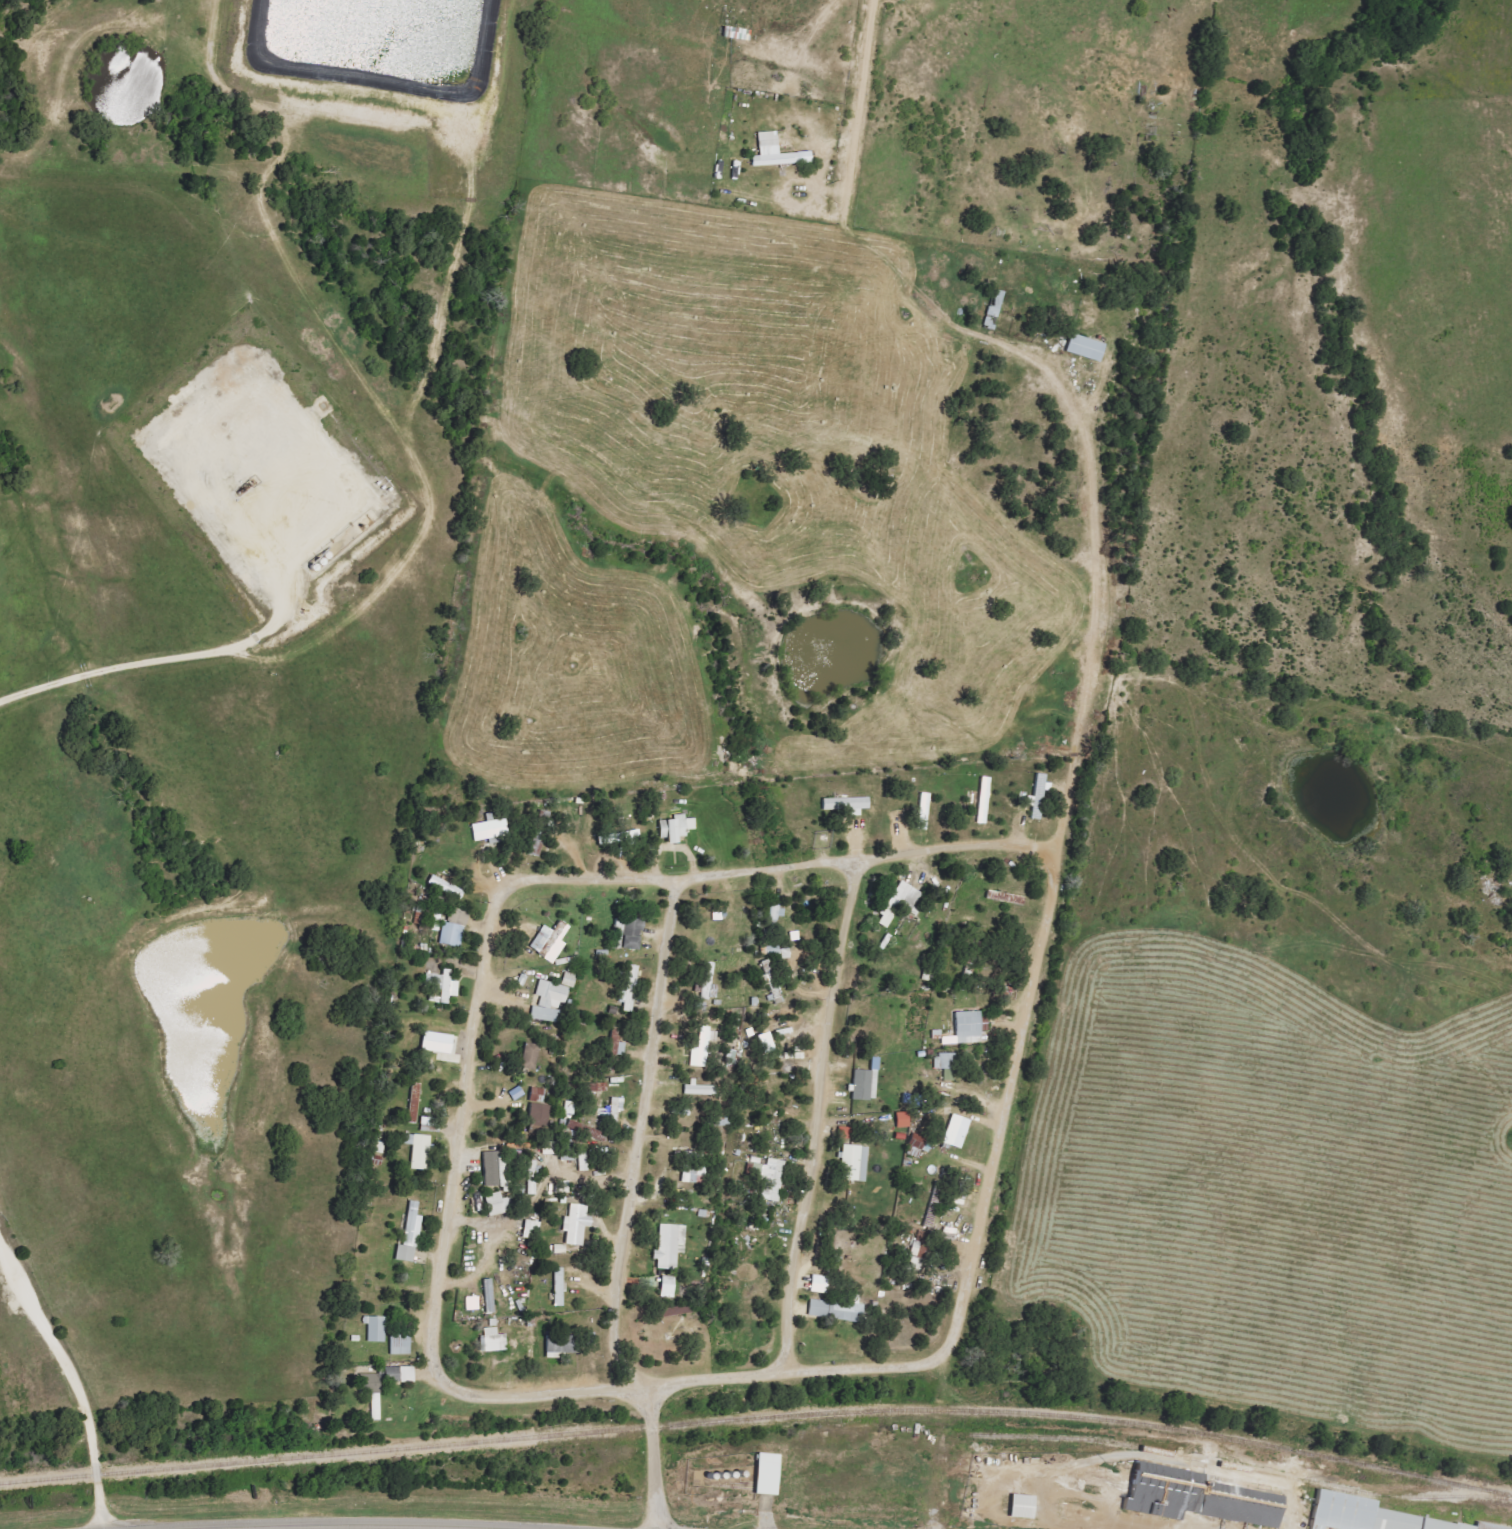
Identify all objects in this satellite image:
road: (862, 77)
building: (777, 153)
building: (994, 309)
building: (1086, 348)
road: (1086, 455)
building: (1038, 797)
building: (983, 802)
building: (847, 805)
building: (923, 811)
building: (676, 828)
building: (490, 829)
building: (618, 837)
road: (531, 876)
building: (899, 902)
building: (777, 912)
building: (437, 922)
building: (455, 928)
building: (630, 932)
building: (541, 939)
building: (774, 952)
building: (569, 980)
building: (709, 983)
building: (444, 985)
building: (629, 991)
building: (549, 1002)
building: (966, 1029)
building: (436, 1043)
building: (702, 1048)
building: (530, 1056)
building: (946, 1065)
building: (863, 1085)
building: (700, 1089)
building: (537, 1094)
building: (414, 1103)
building: (569, 1108)
road: (1004, 1108)
building: (616, 1109)
road: (818, 1113)
building: (539, 1115)
building: (903, 1120)
building: (428, 1124)
building: (956, 1132)
road: (641, 1138)
building: (920, 1143)
building: (419, 1151)
building: (854, 1163)
building: (495, 1169)
building: (692, 1174)
building: (532, 1178)
building: (770, 1178)
building: (495, 1204)
building: (576, 1224)
building: (532, 1230)
building: (410, 1235)
building: (922, 1244)
building: (670, 1246)
building: (819, 1284)
building: (559, 1287)
building: (667, 1287)
building: (489, 1296)
building: (472, 1303)
building: (837, 1309)
building: (376, 1329)
building: (493, 1341)
building: (400, 1345)
building: (561, 1345)
building: (399, 1374)
road: (66, 1378)
road: (692, 1381)
building: (370, 1383)
railway: (758, 1418)
road: (651, 1457)
railway: (1242, 1468)
building: (768, 1474)
road: (938, 1491)
building: (1191, 1497)
building: (1014, 1506)
road: (763, 1513)
building: (1356, 1514)
building: (1481, 1526)

